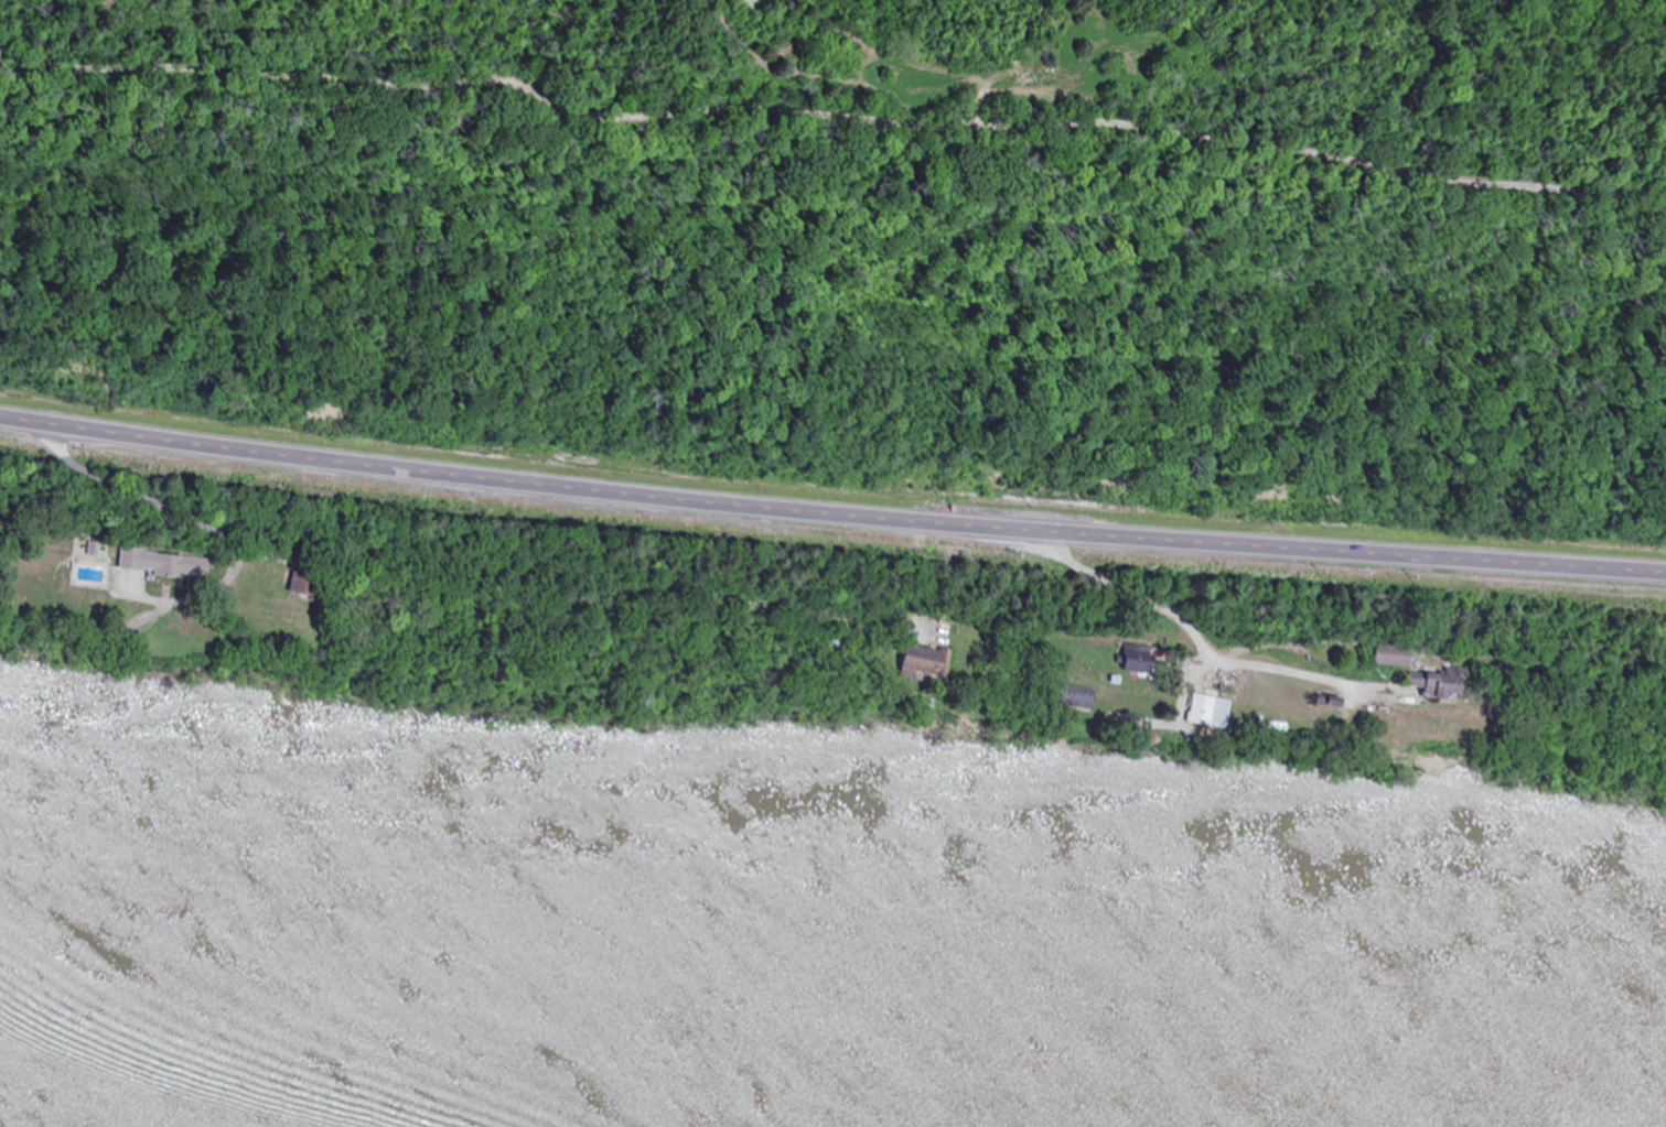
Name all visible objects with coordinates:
road: (835, 84)
building: (154, 509)
road: (830, 513)
building: (168, 562)
building: (303, 584)
building: (1401, 655)
building: (1143, 660)
building: (931, 661)
building: (1444, 684)
building: (1211, 712)

